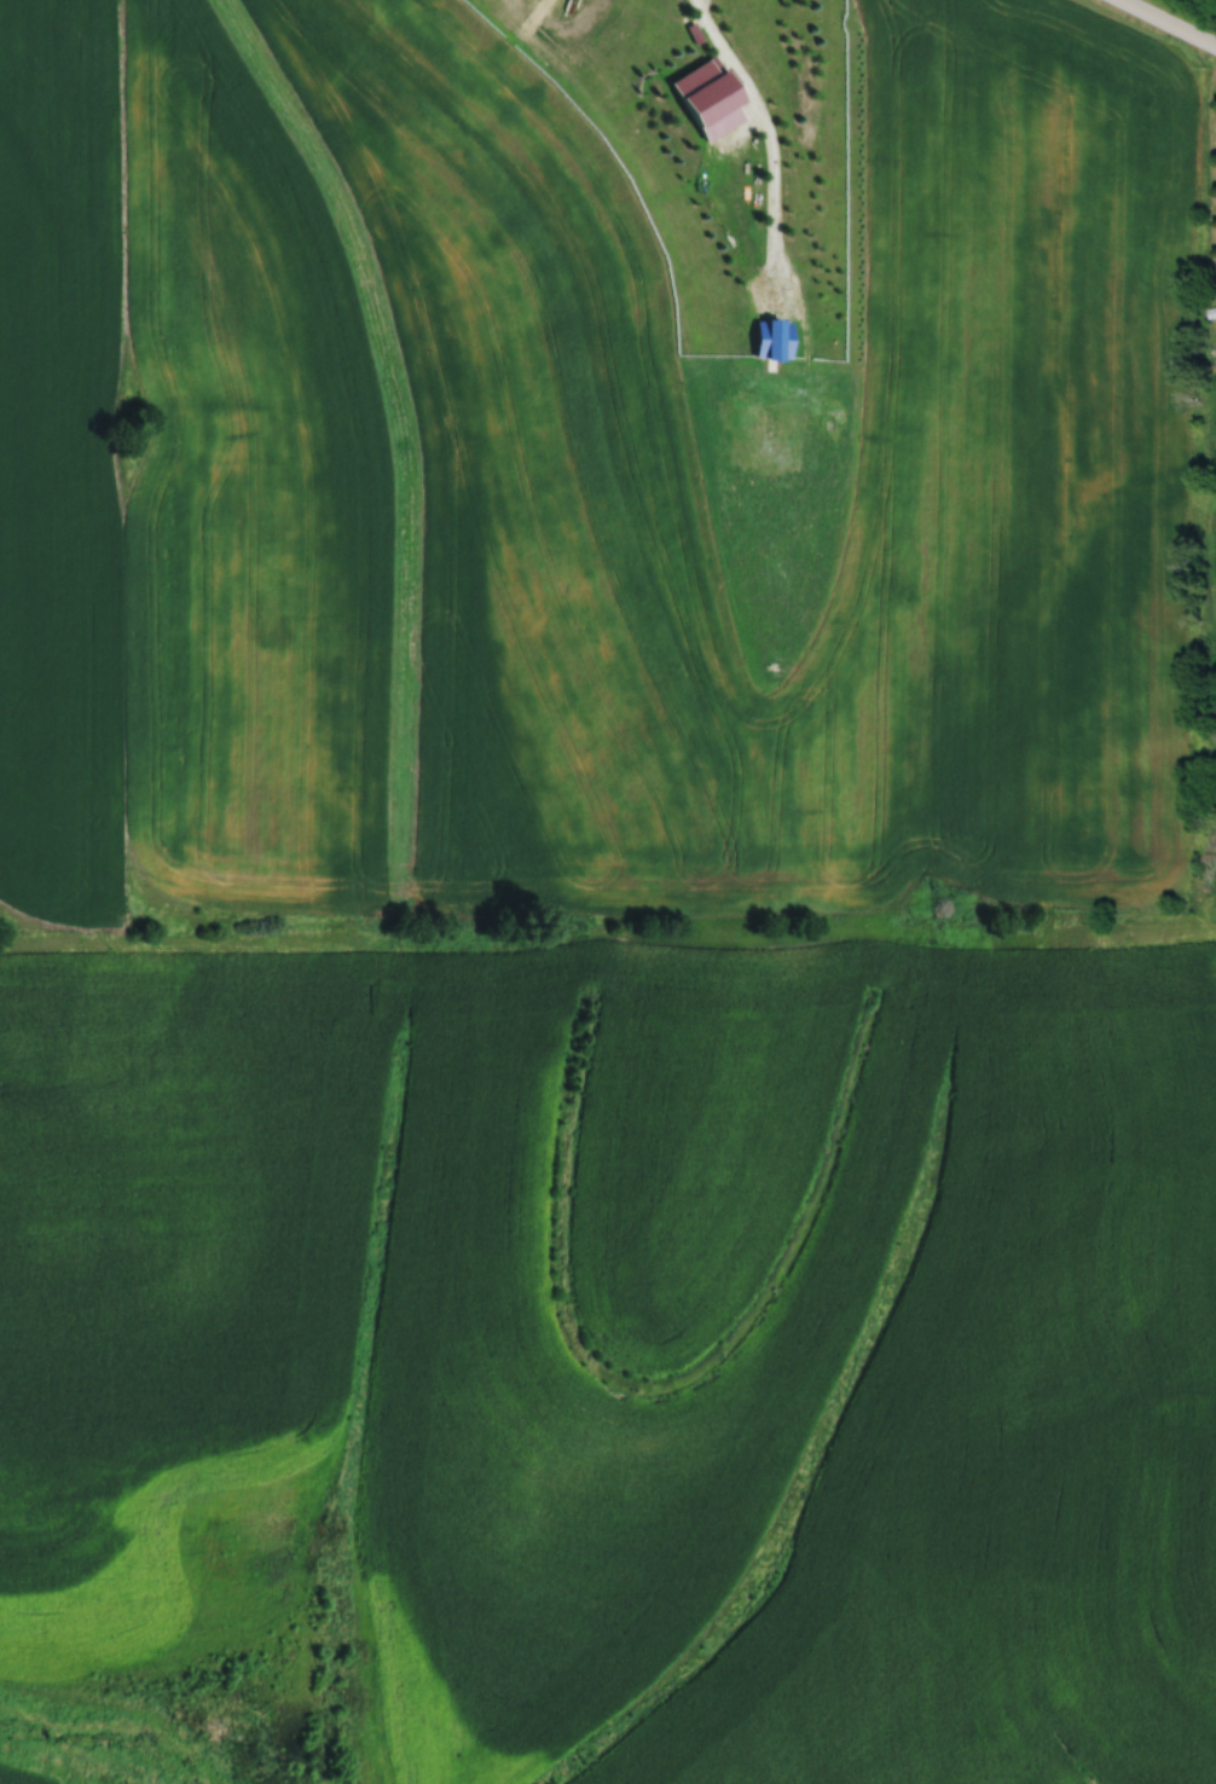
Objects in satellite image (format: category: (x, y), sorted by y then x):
road: (1166, 24)

